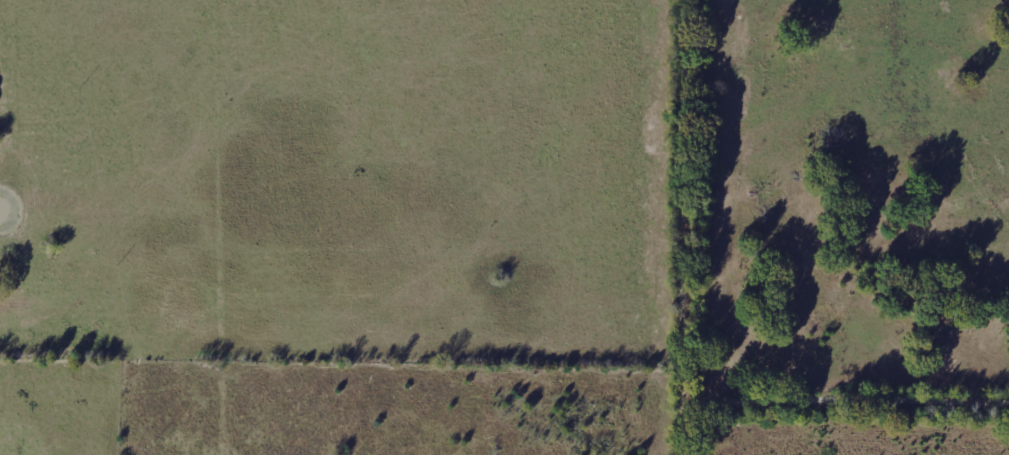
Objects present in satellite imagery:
road: (689, 227)

